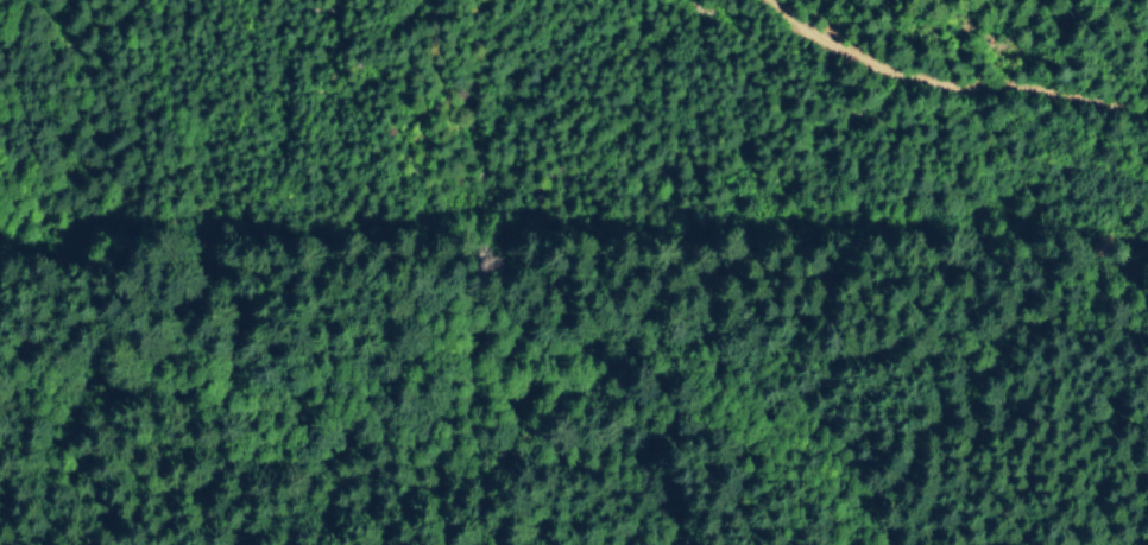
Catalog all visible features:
road: (945, 82)

